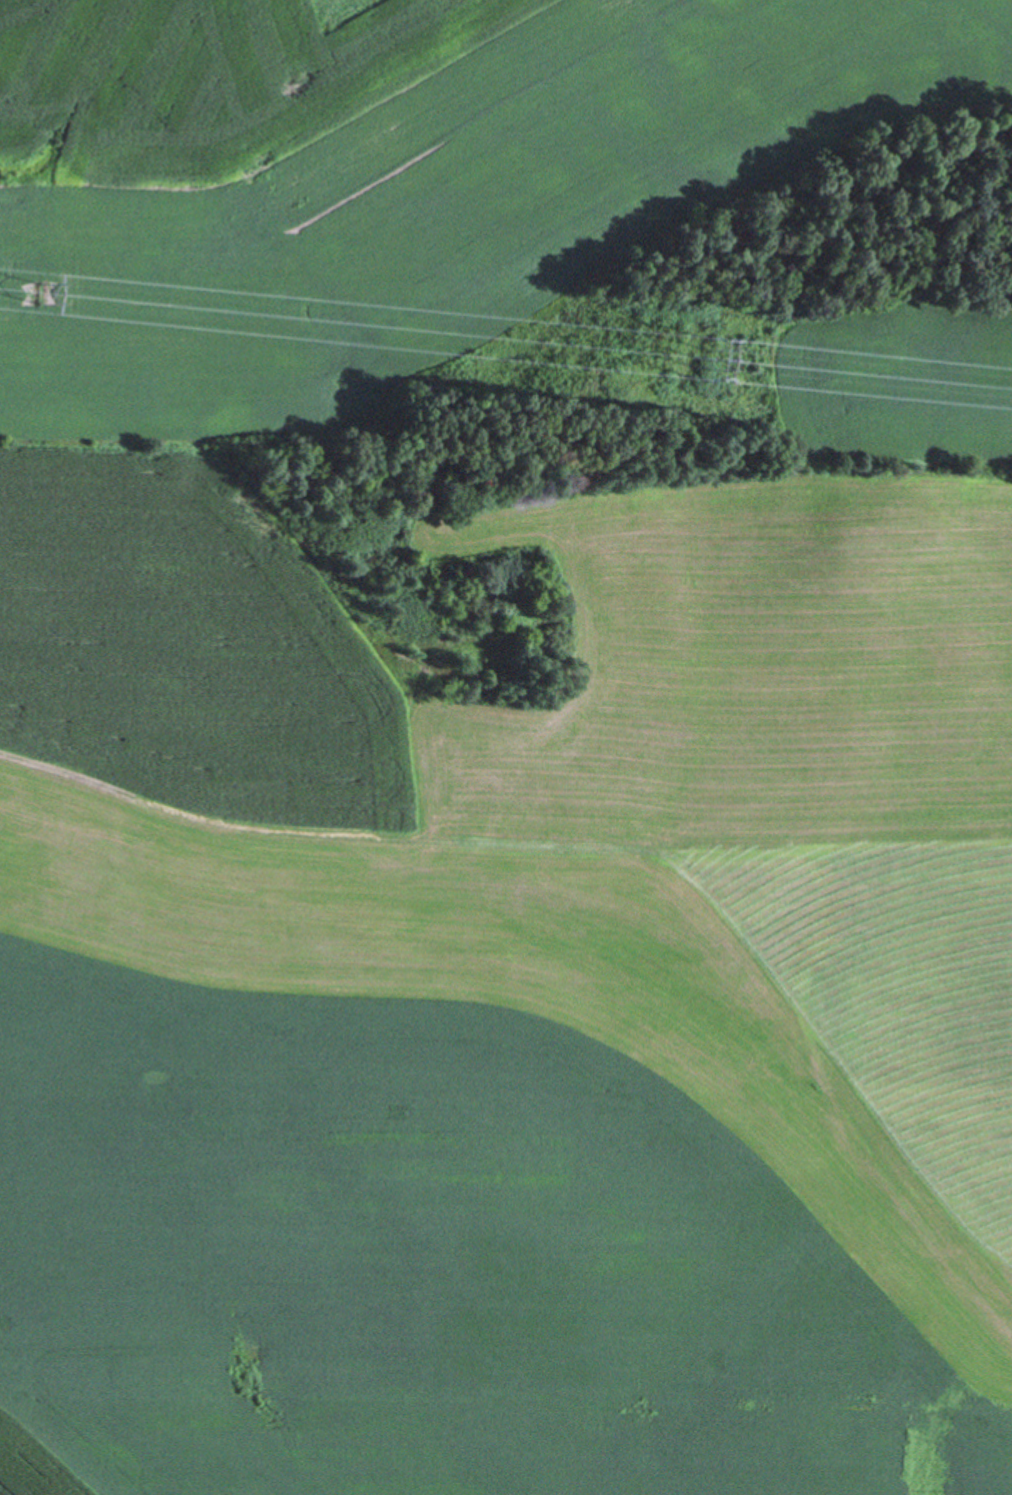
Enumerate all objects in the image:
power tower: (46, 294)

